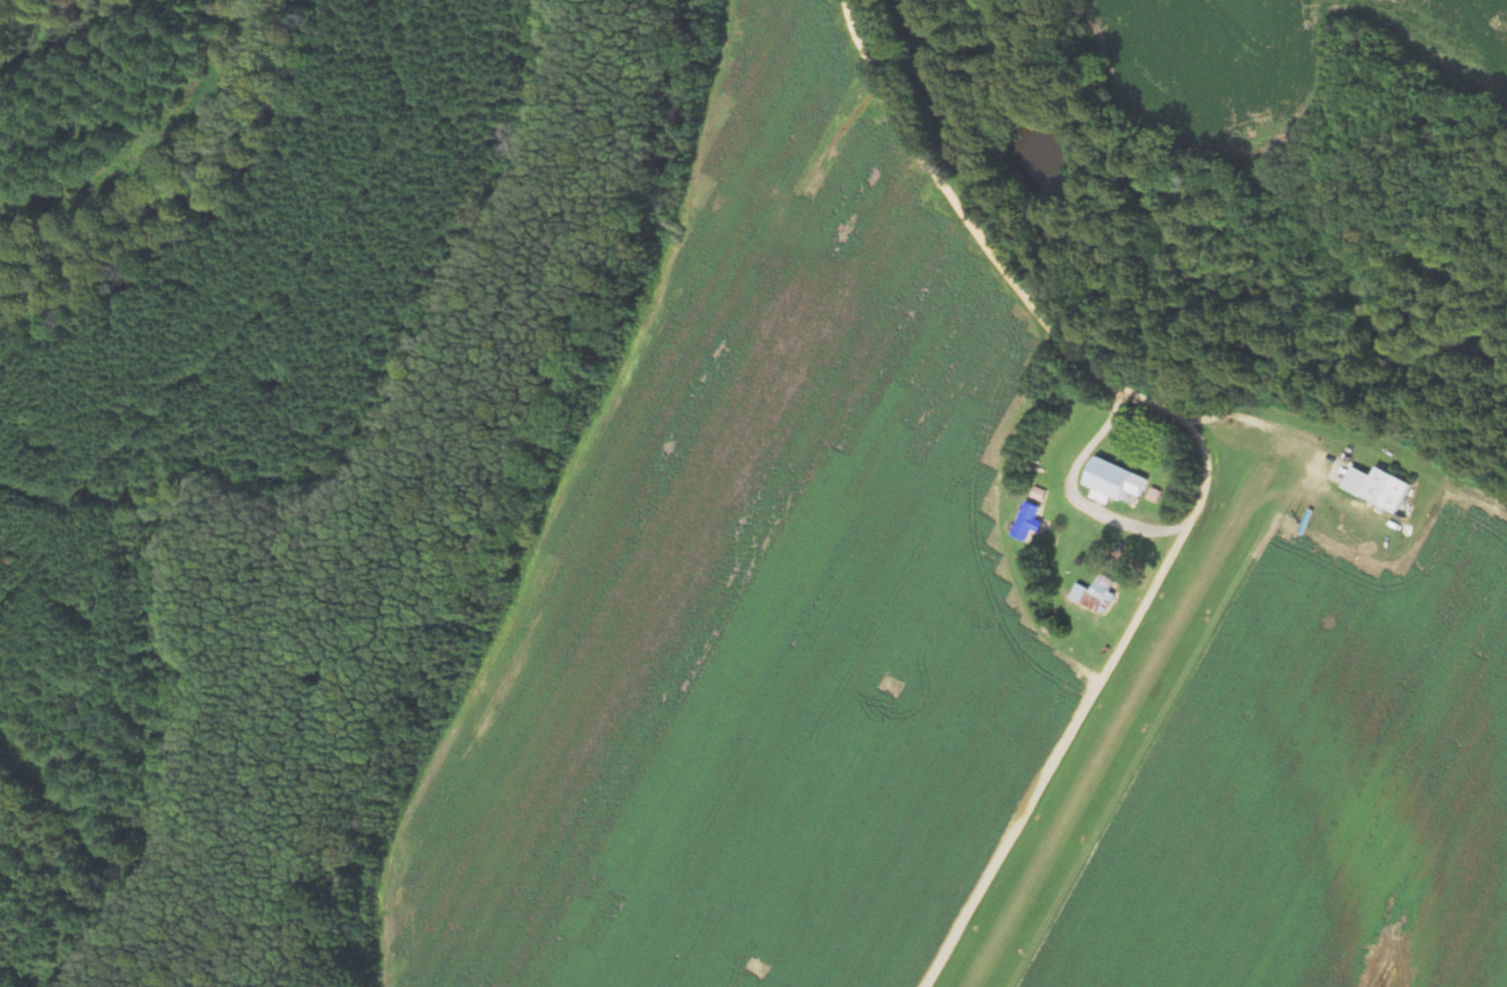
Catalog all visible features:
road: (1355, 448)
road: (1202, 462)
building: (1114, 482)
building: (1378, 488)
road: (1076, 494)
building: (1027, 522)
building: (1095, 594)
airport runway: (1108, 734)

